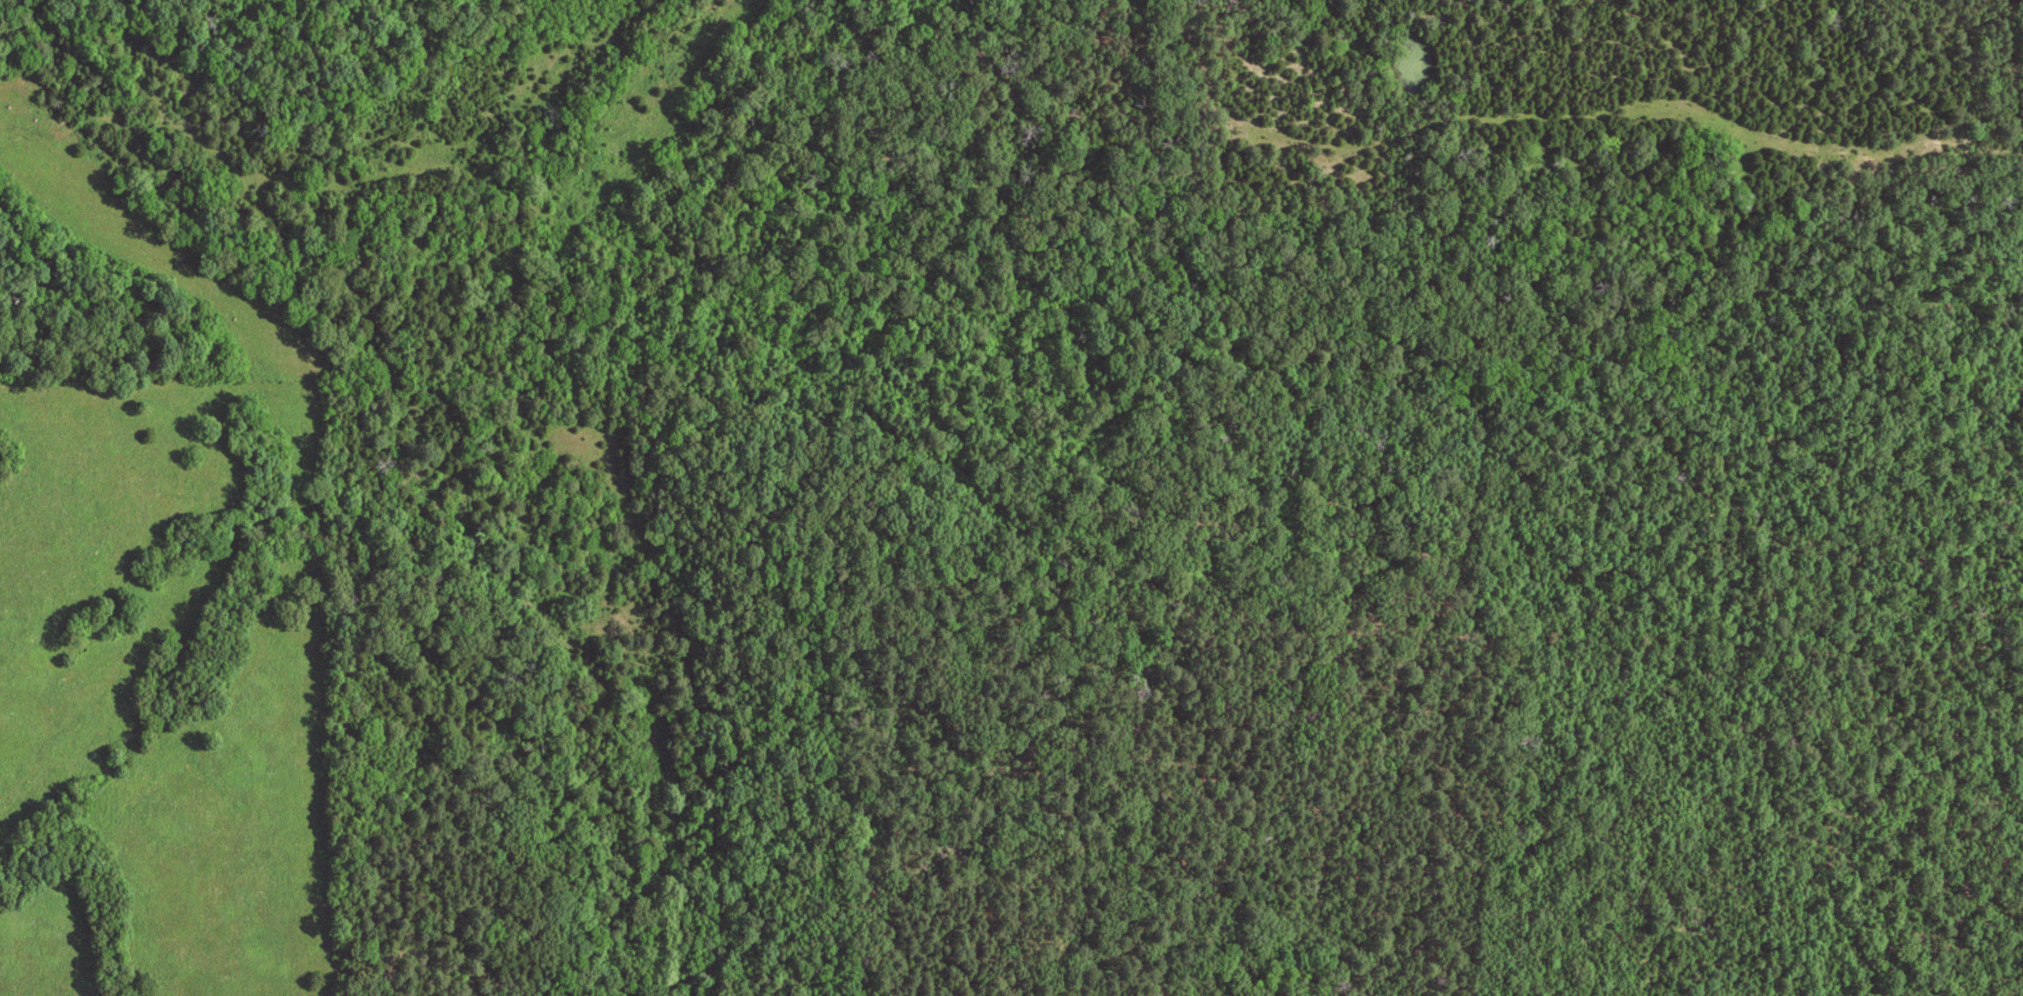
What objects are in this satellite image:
road: (1772, 98)

